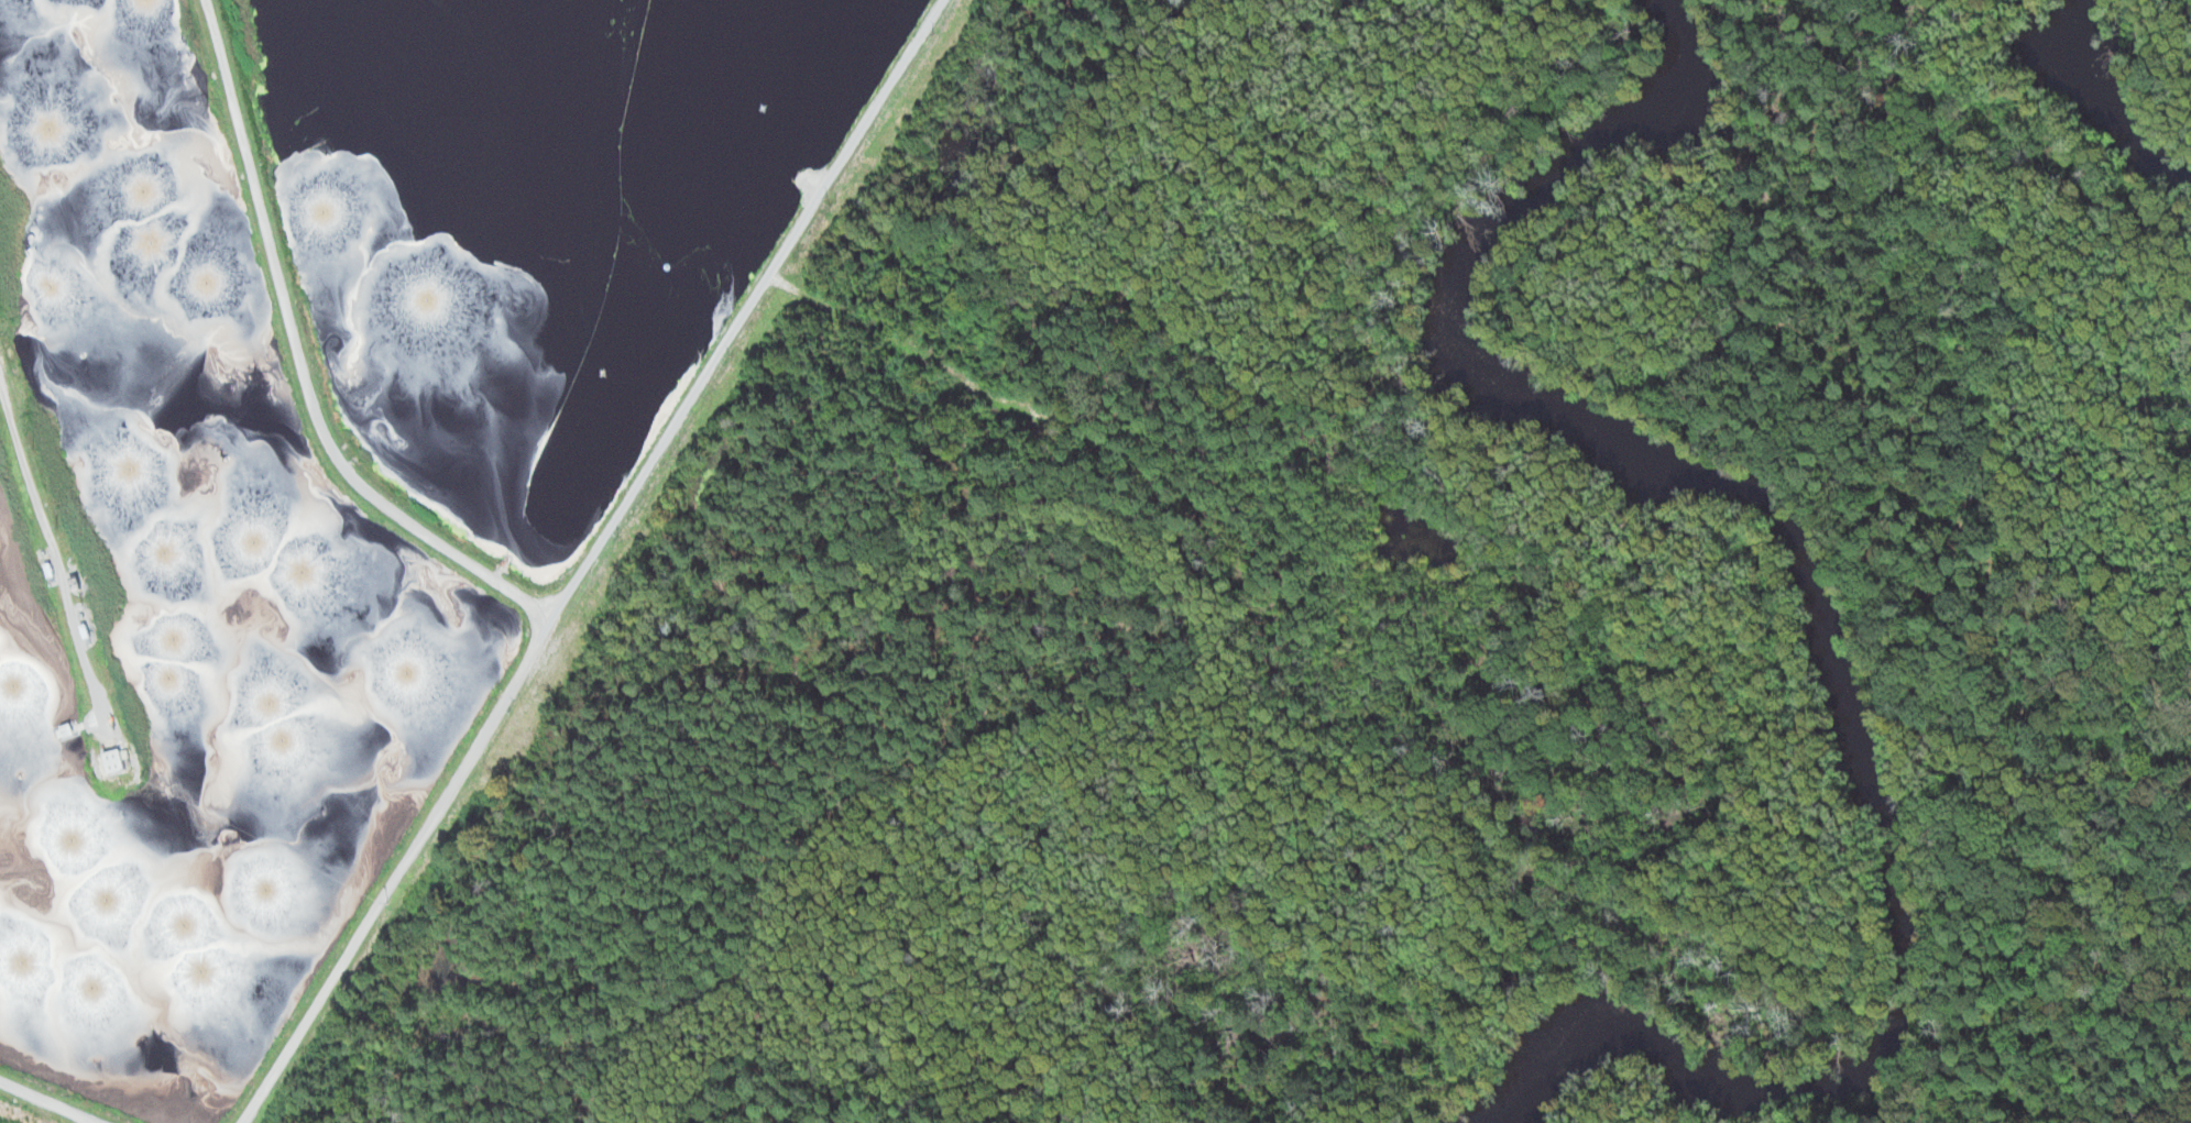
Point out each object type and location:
road: (742, 305)
road: (303, 357)
road: (57, 558)
building: (123, 762)
road: (406, 870)
road: (44, 1101)

